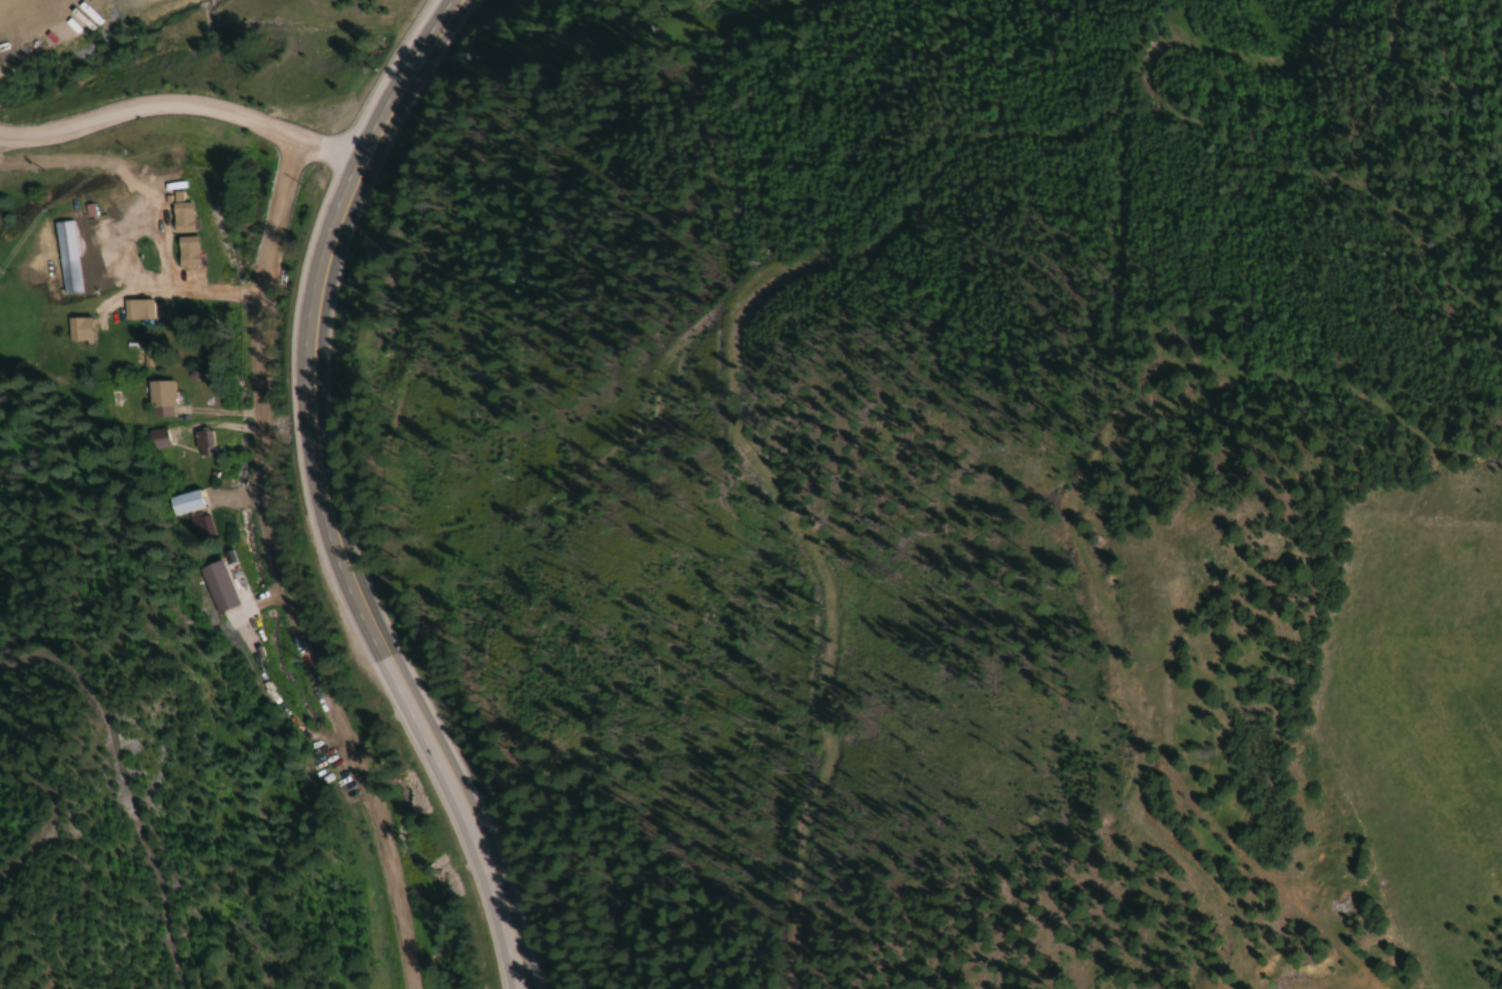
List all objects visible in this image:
road: (188, 107)
building: (180, 217)
building: (185, 252)
building: (66, 257)
building: (137, 310)
building: (77, 330)
building: (158, 399)
building: (204, 443)
road: (329, 497)
building: (183, 501)
building: (200, 527)
road: (280, 571)
building: (215, 585)

